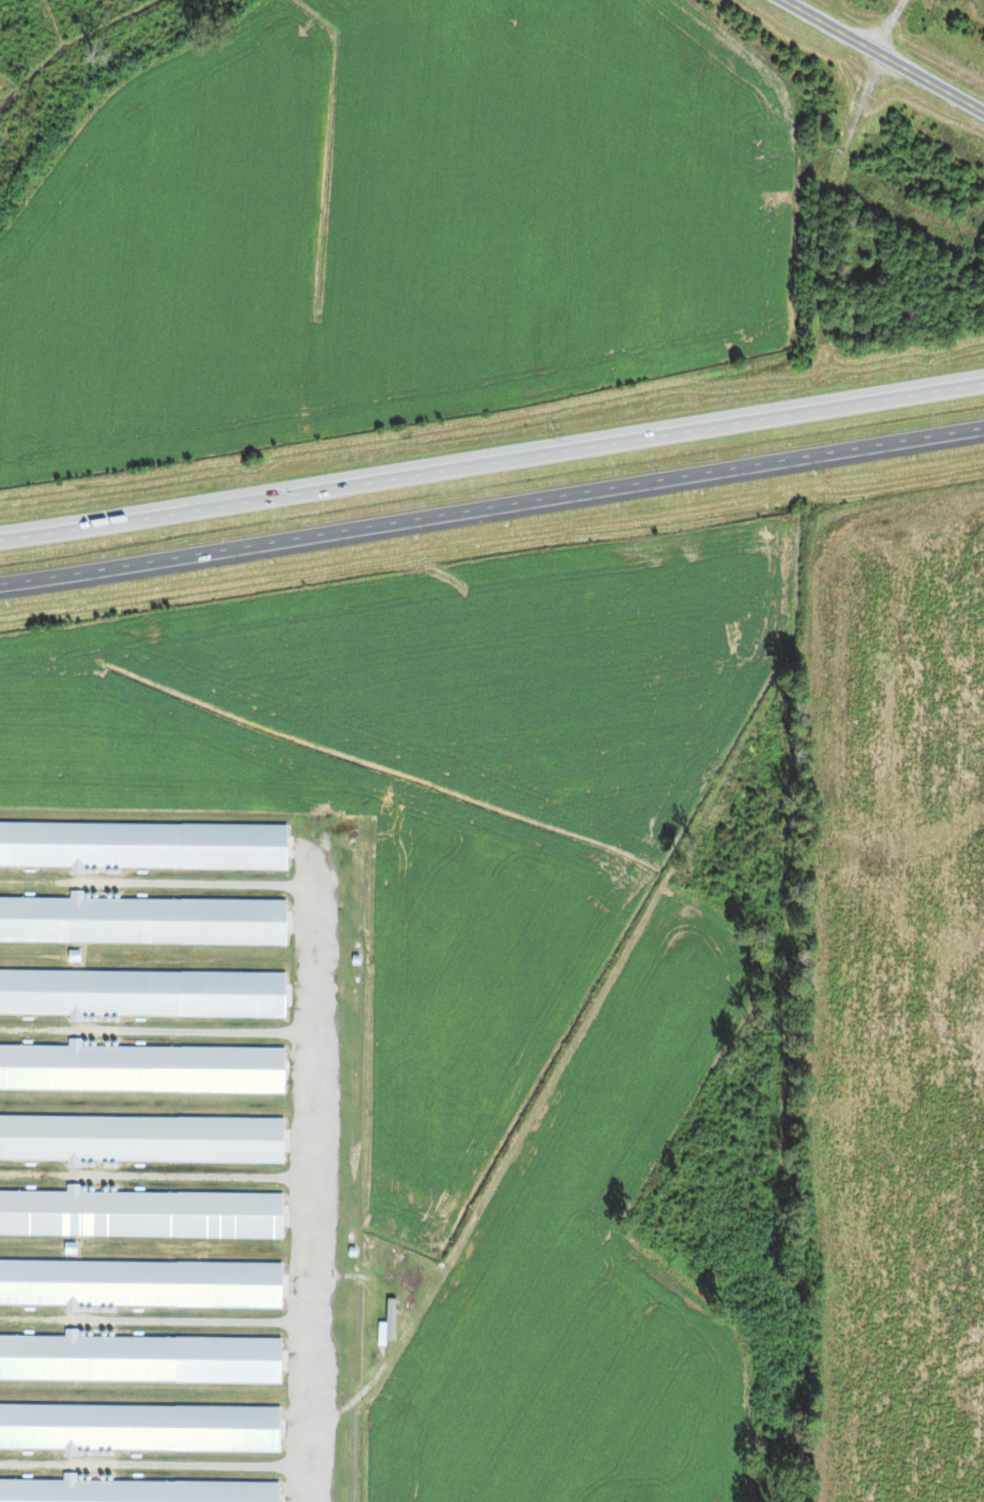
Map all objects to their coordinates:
road: (884, 55)
road: (492, 455)
road: (492, 512)
building: (143, 846)
road: (155, 883)
building: (142, 921)
building: (142, 994)
road: (152, 1032)
building: (141, 1069)
building: (141, 1139)
road: (152, 1172)
road: (303, 1176)
building: (140, 1214)
building: (140, 1285)
building: (392, 1319)
road: (156, 1321)
building: (139, 1360)
road: (362, 1393)
building: (139, 1429)
road: (160, 1463)
building: (134, 1492)

